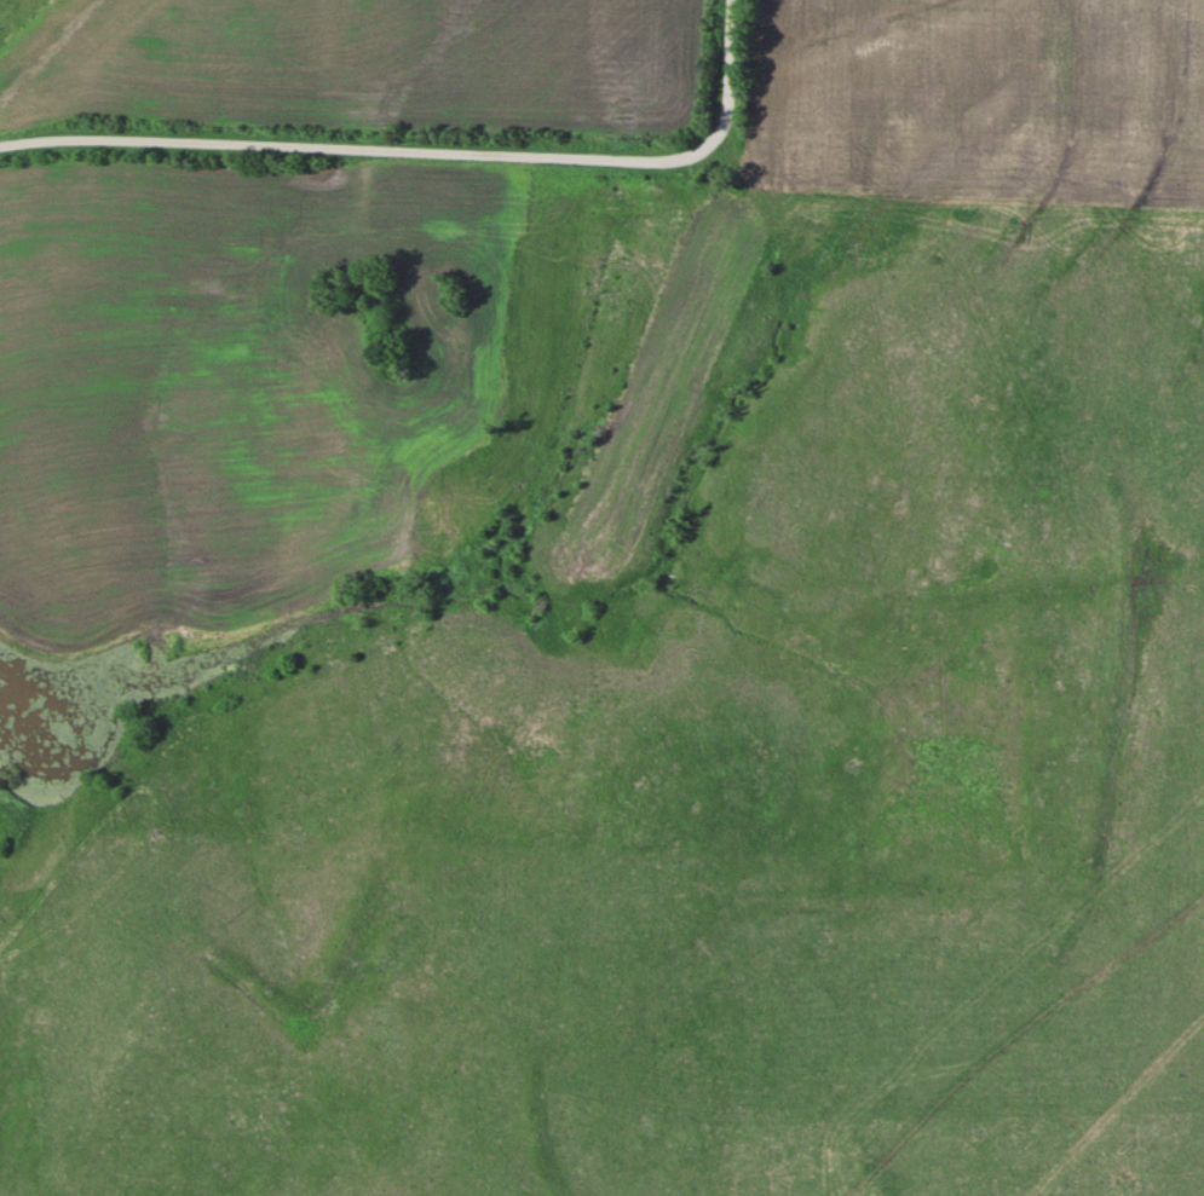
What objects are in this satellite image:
road: (428, 151)

